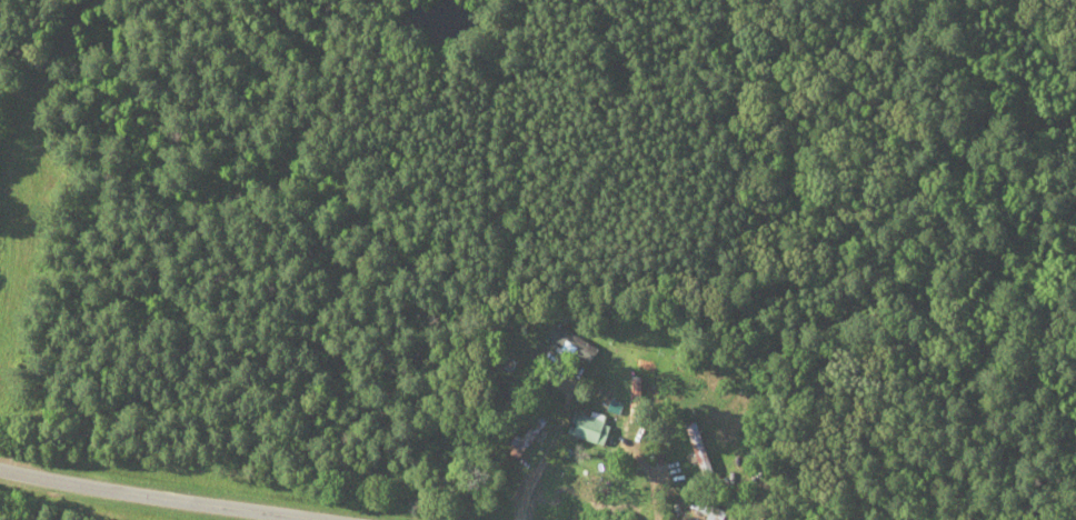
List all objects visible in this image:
building: (567, 344)
building: (586, 428)
building: (525, 436)
building: (695, 448)
road: (160, 498)
building: (704, 510)

